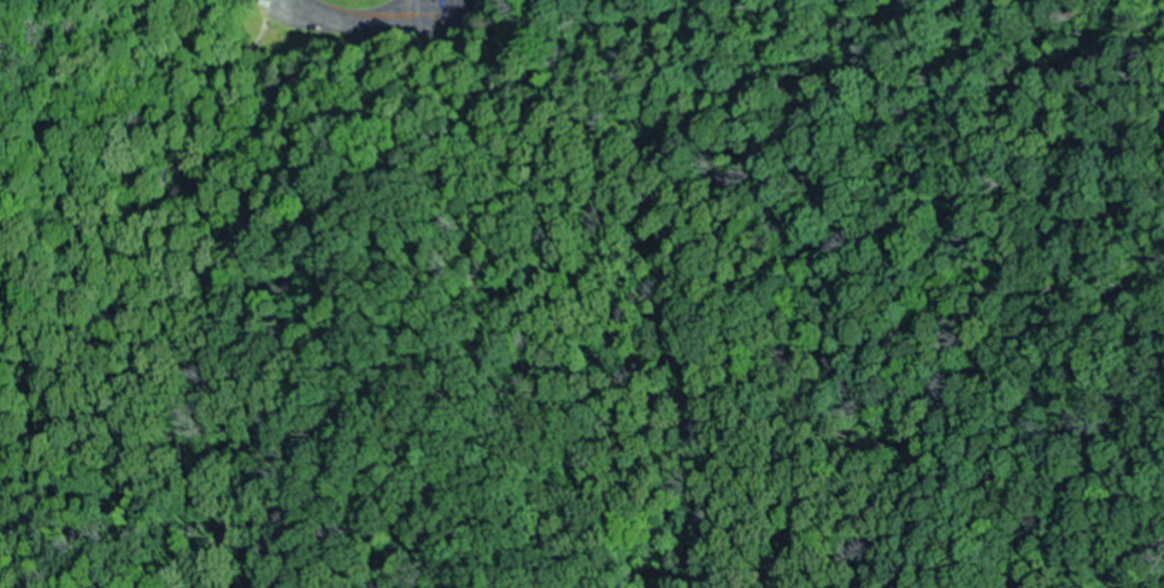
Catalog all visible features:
building: (460, 11)

